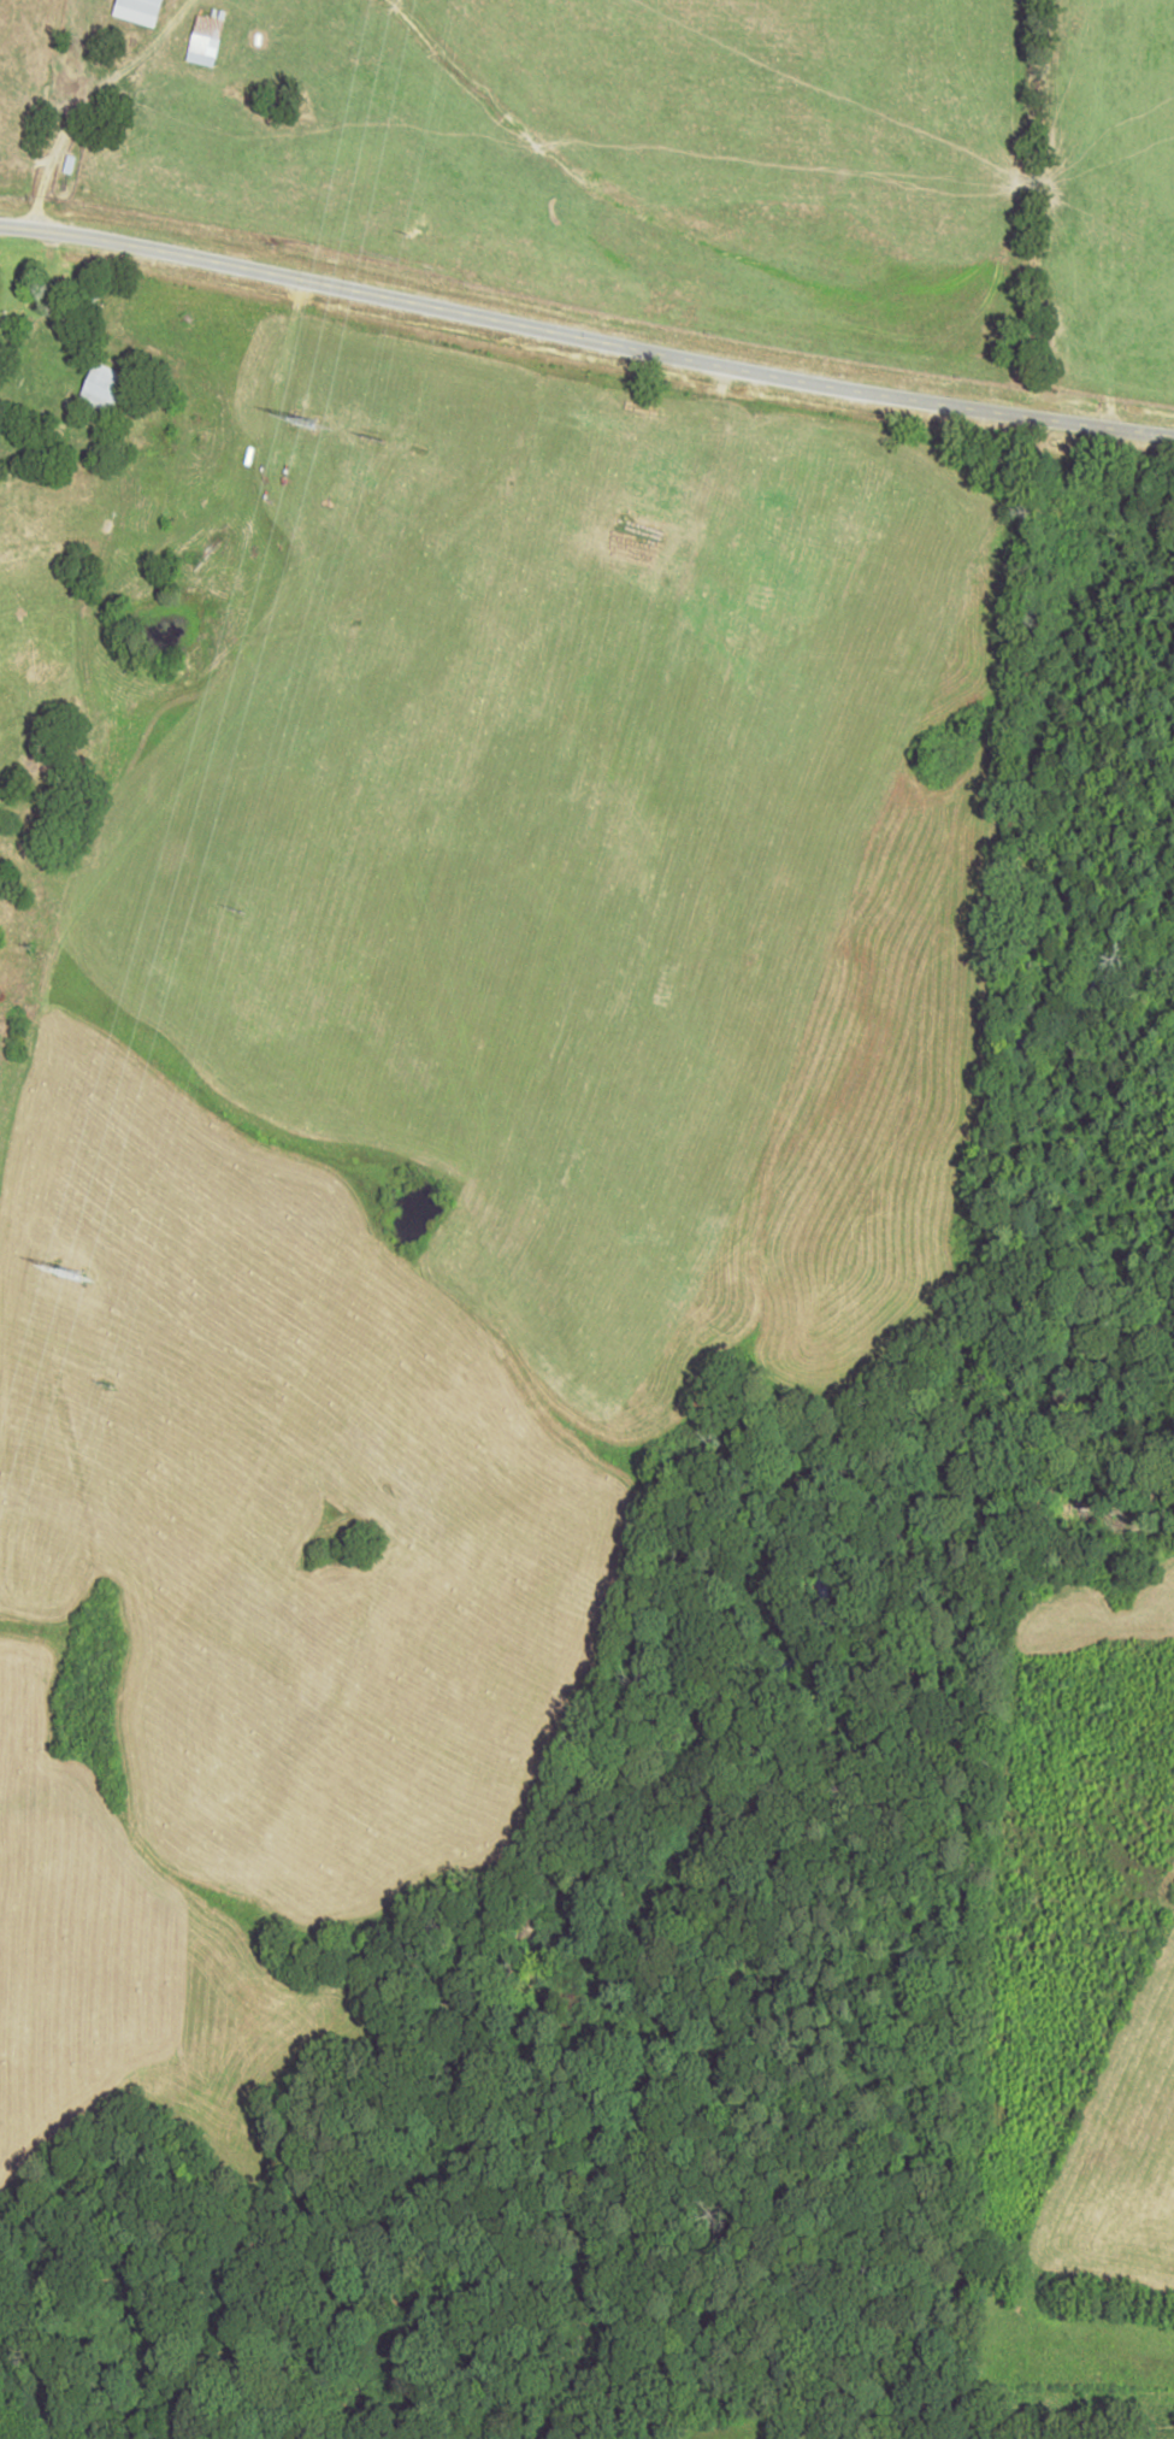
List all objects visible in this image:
building: (137, 11)
building: (205, 40)
road: (585, 338)
building: (101, 385)
power tower: (278, 420)
power tower: (45, 1276)

